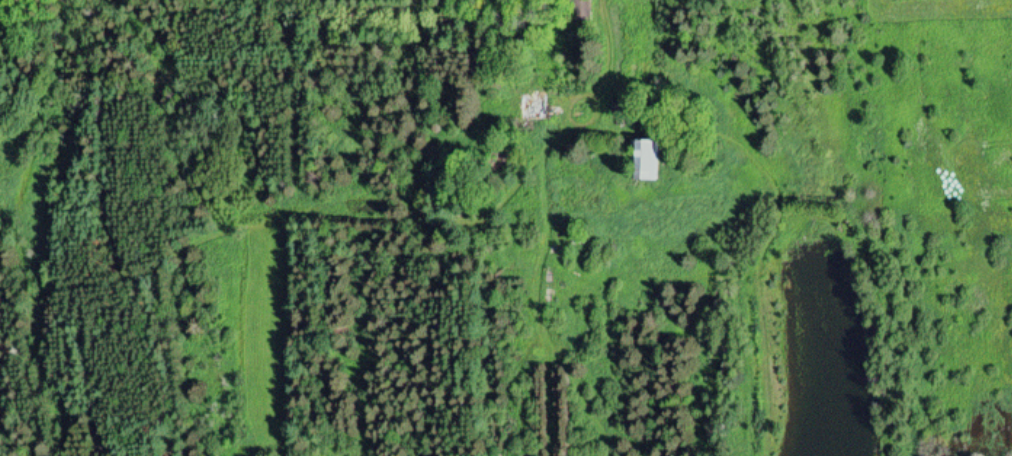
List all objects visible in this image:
building: (531, 109)
building: (641, 162)

